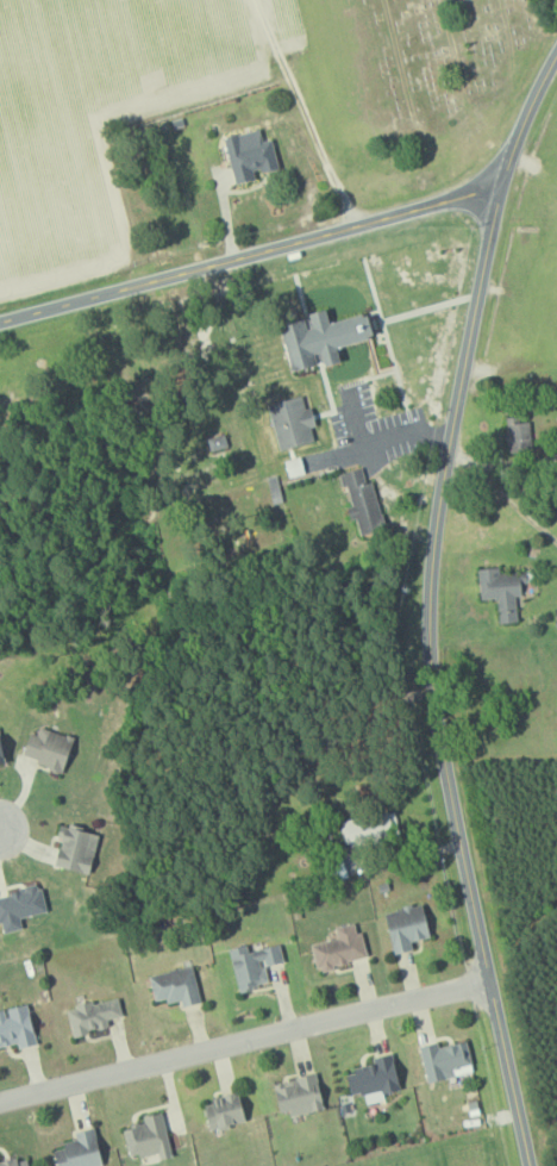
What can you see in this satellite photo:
park: (451, 57)
road: (305, 116)
building: (249, 155)
road: (250, 257)
building: (319, 337)
building: (290, 422)
building: (518, 436)
road: (380, 439)
road: (502, 492)
building: (362, 501)
building: (500, 591)
road: (428, 609)
building: (46, 748)
building: (1, 755)
building: (369, 830)
building: (75, 850)
building: (19, 906)
building: (405, 928)
building: (339, 948)
building: (252, 965)
building: (175, 986)
building: (92, 1016)
building: (15, 1028)
road: (245, 1043)
building: (444, 1061)
building: (373, 1080)
building: (296, 1096)
building: (223, 1112)
building: (146, 1137)
building: (79, 1151)
building: (14, 1161)

